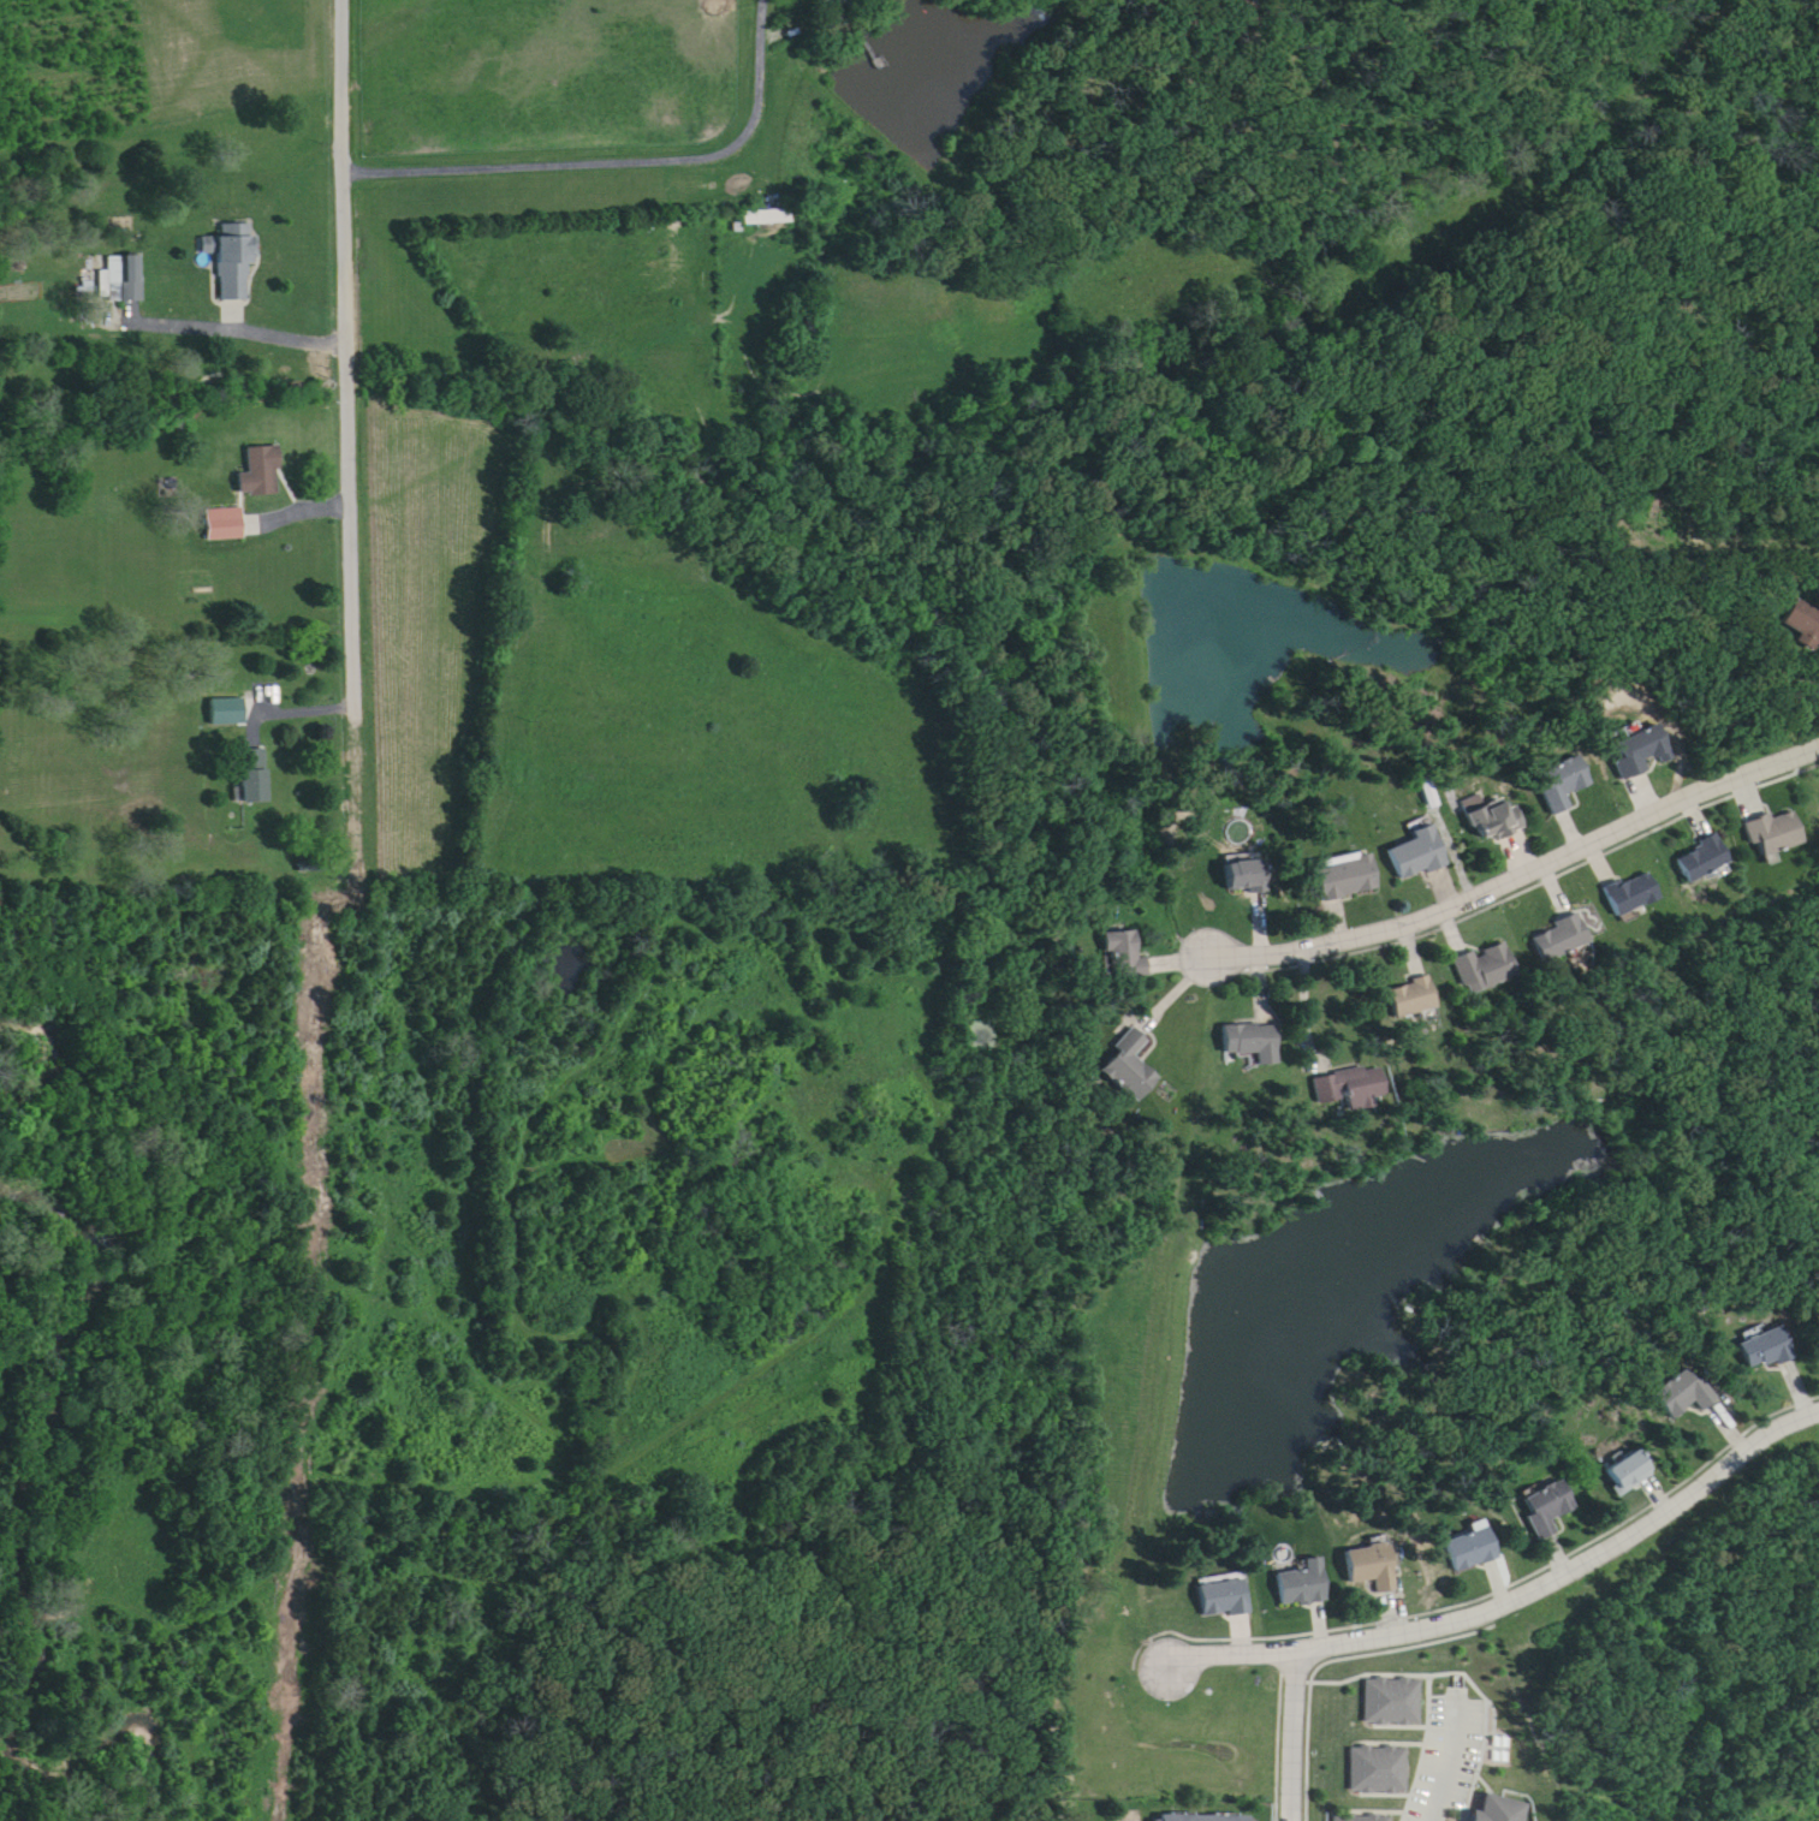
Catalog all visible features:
building: (836, 1)
road: (622, 163)
building: (769, 216)
building: (234, 261)
road: (232, 328)
road: (349, 409)
building: (264, 471)
building: (1642, 754)
building: (255, 778)
building: (1565, 785)
building: (1497, 820)
building: (1778, 834)
building: (1420, 856)
building: (1706, 862)
road: (1517, 873)
building: (1348, 877)
building: (1636, 895)
building: (1565, 940)
building: (1127, 954)
building: (1490, 968)
building: (1417, 999)
road: (1291, 1007)
building: (1254, 1043)
building: (1130, 1067)
building: (1355, 1088)
building: (1767, 1351)
building: (1686, 1395)
building: (1630, 1474)
building: (1550, 1510)
building: (1474, 1551)
building: (1374, 1569)
building: (1306, 1585)
building: (1225, 1600)
road: (1517, 1605)
building: (1393, 1684)
road: (1284, 1734)
building: (1379, 1752)
road: (1448, 1758)
building: (1493, 1802)
building: (1360, 1809)
building: (1211, 1813)

